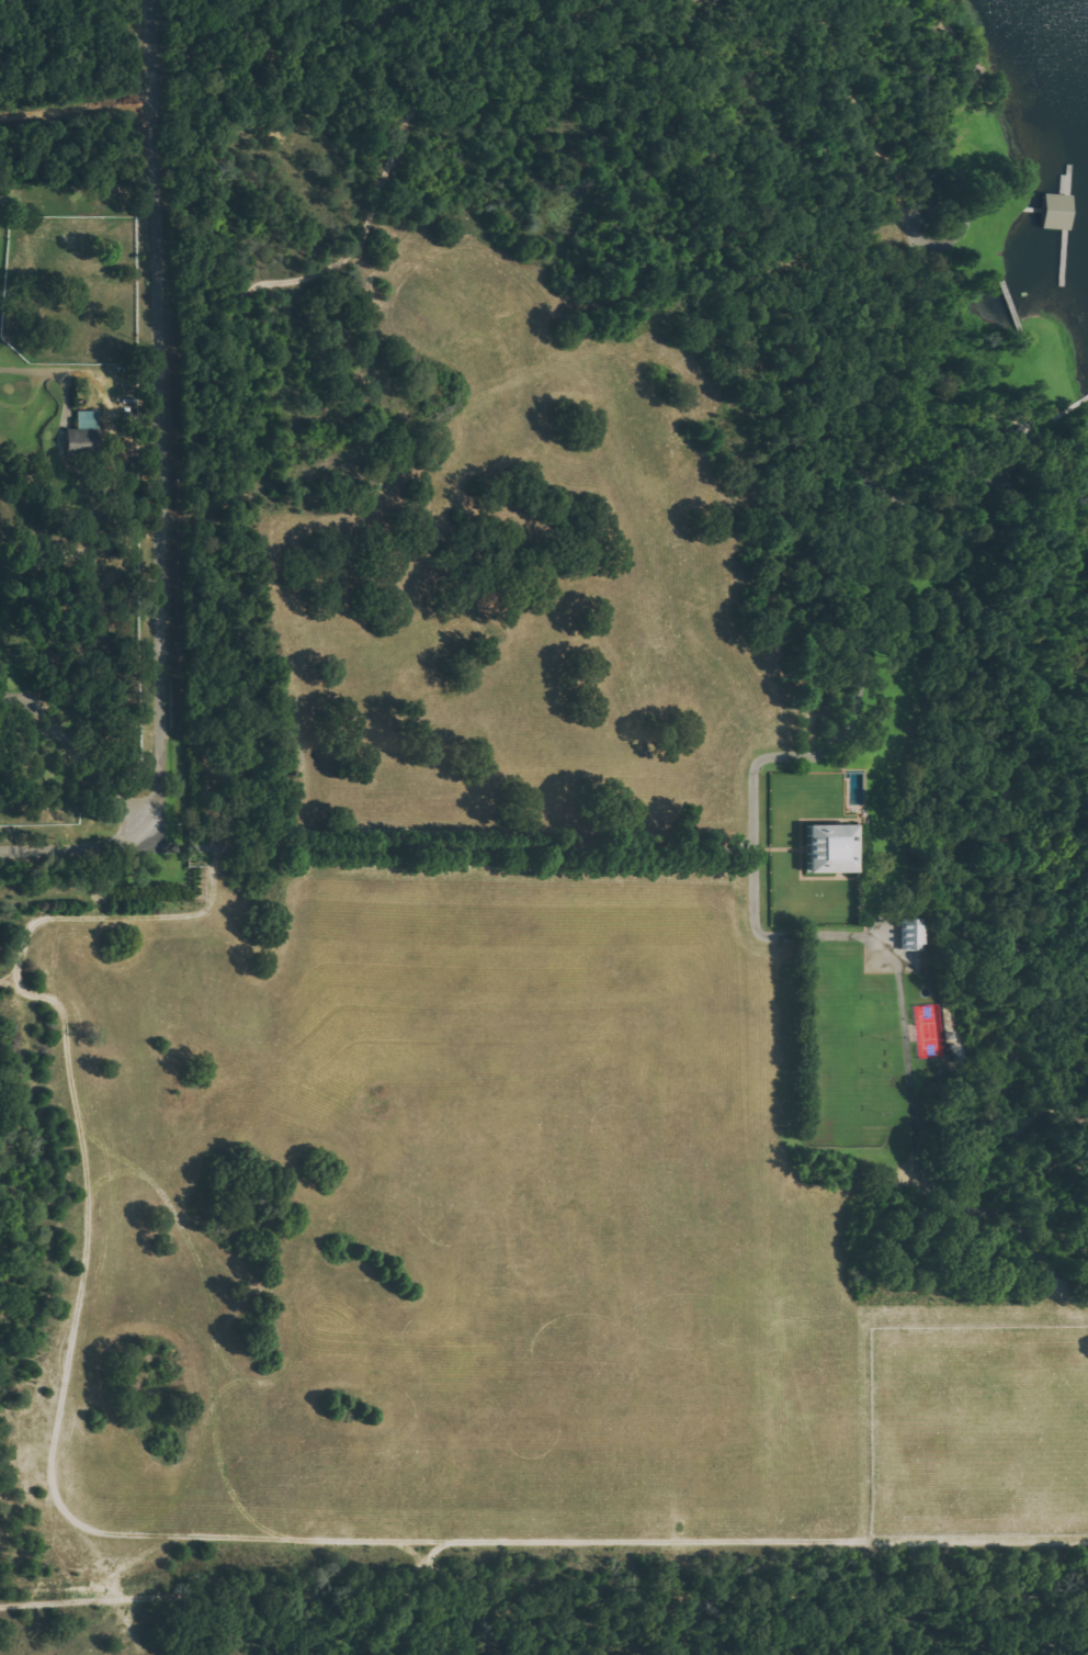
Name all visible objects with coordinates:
road: (155, 183)
building: (81, 431)
road: (163, 594)
road: (78, 846)
building: (831, 847)
road: (344, 849)
building: (913, 934)

